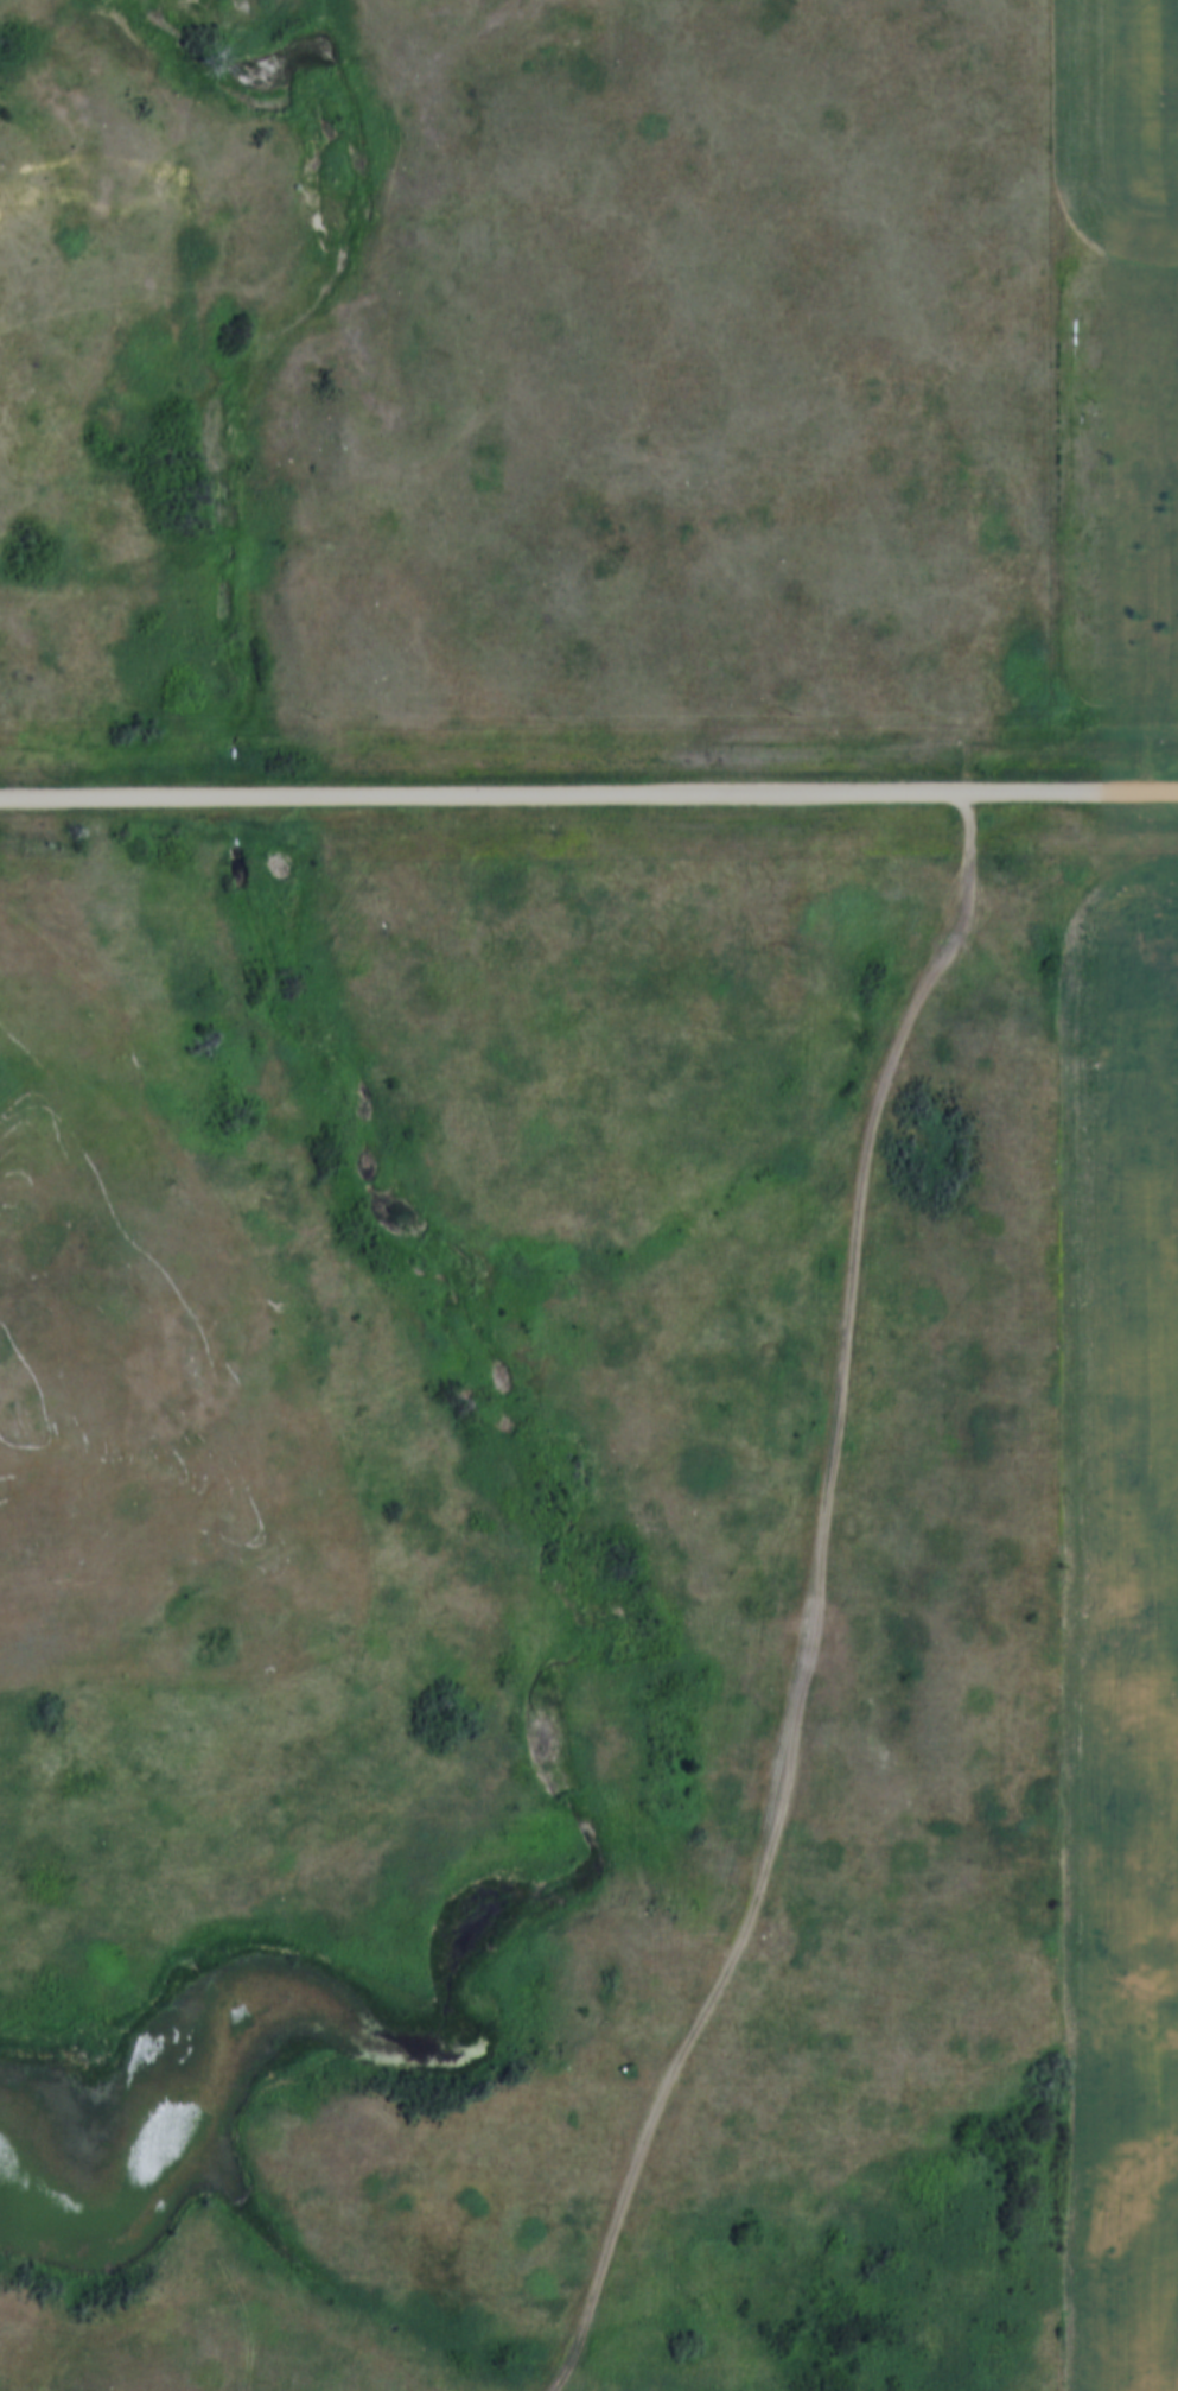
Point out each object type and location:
building: (1164, 382)
road: (1152, 611)
road: (588, 795)
road: (813, 1604)

